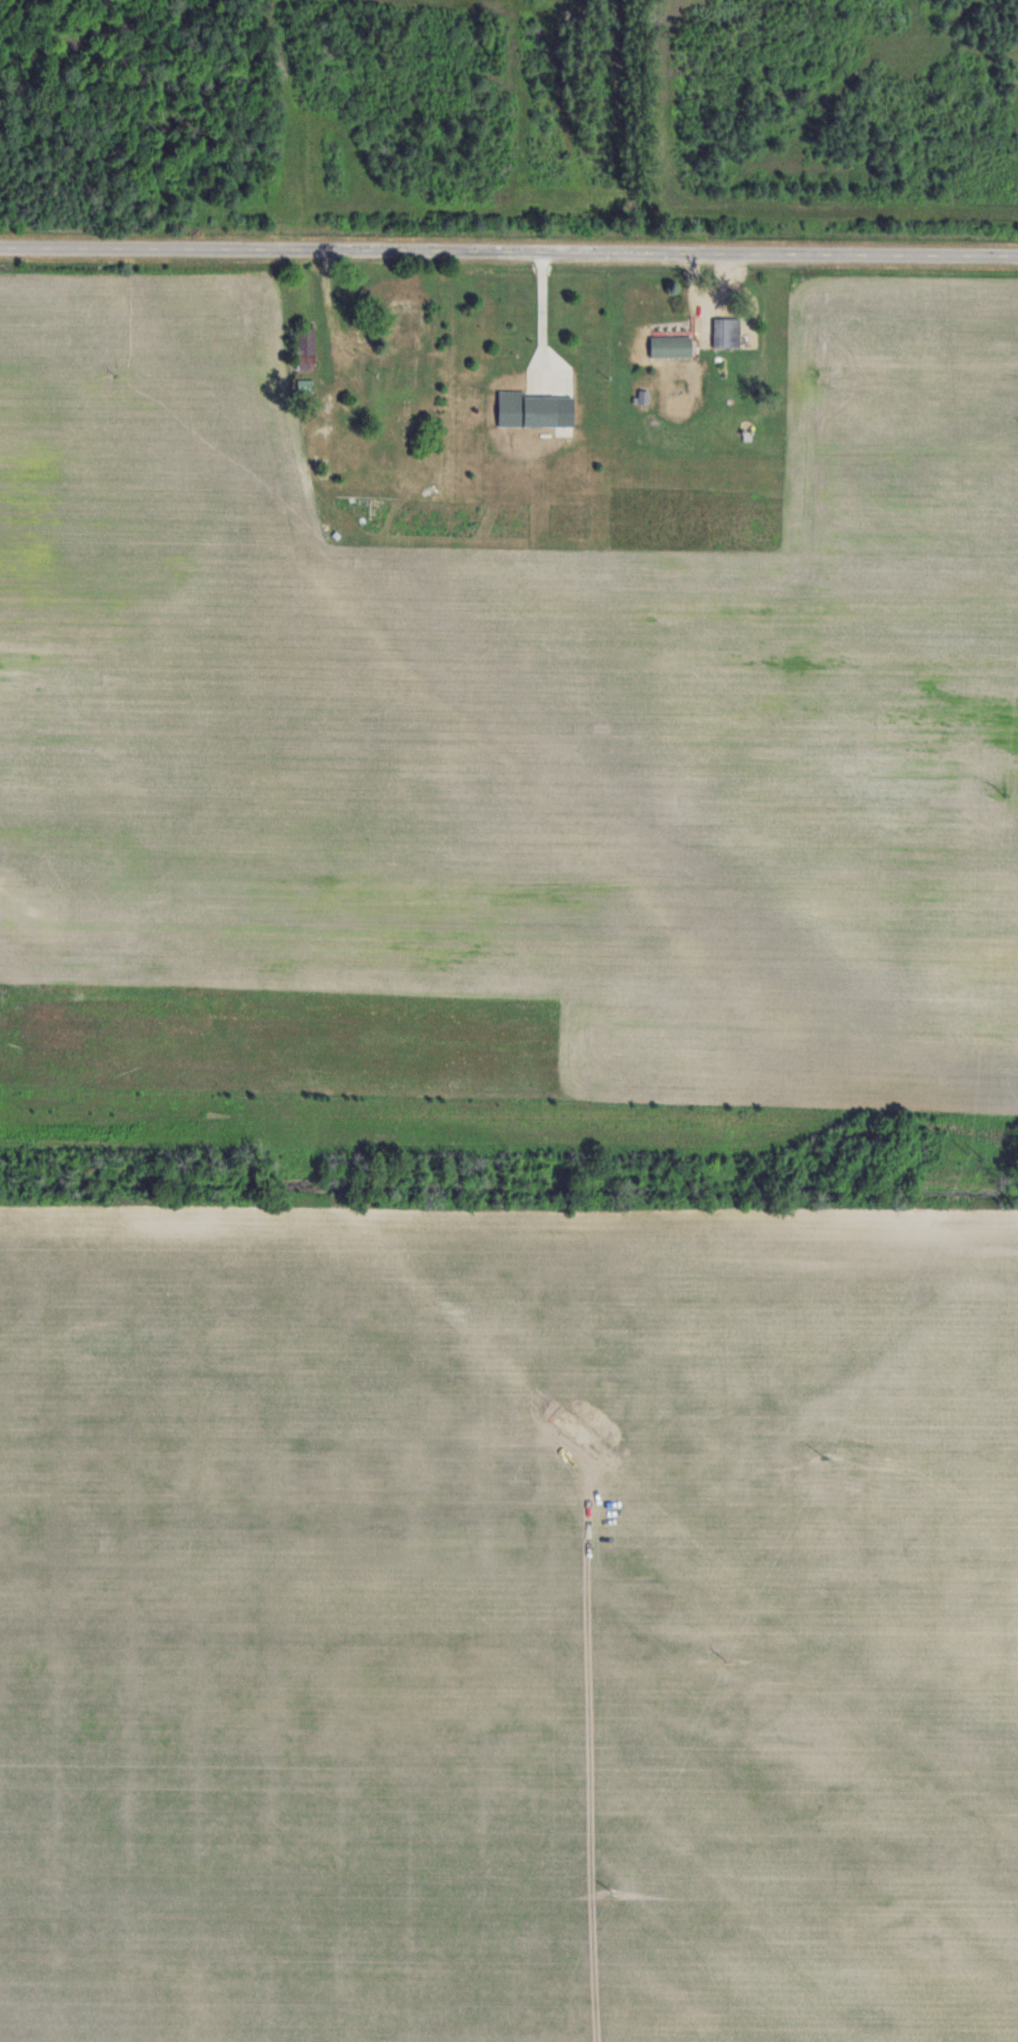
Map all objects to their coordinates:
road: (509, 256)
building: (403, 328)
building: (725, 333)
building: (668, 346)
building: (533, 410)

